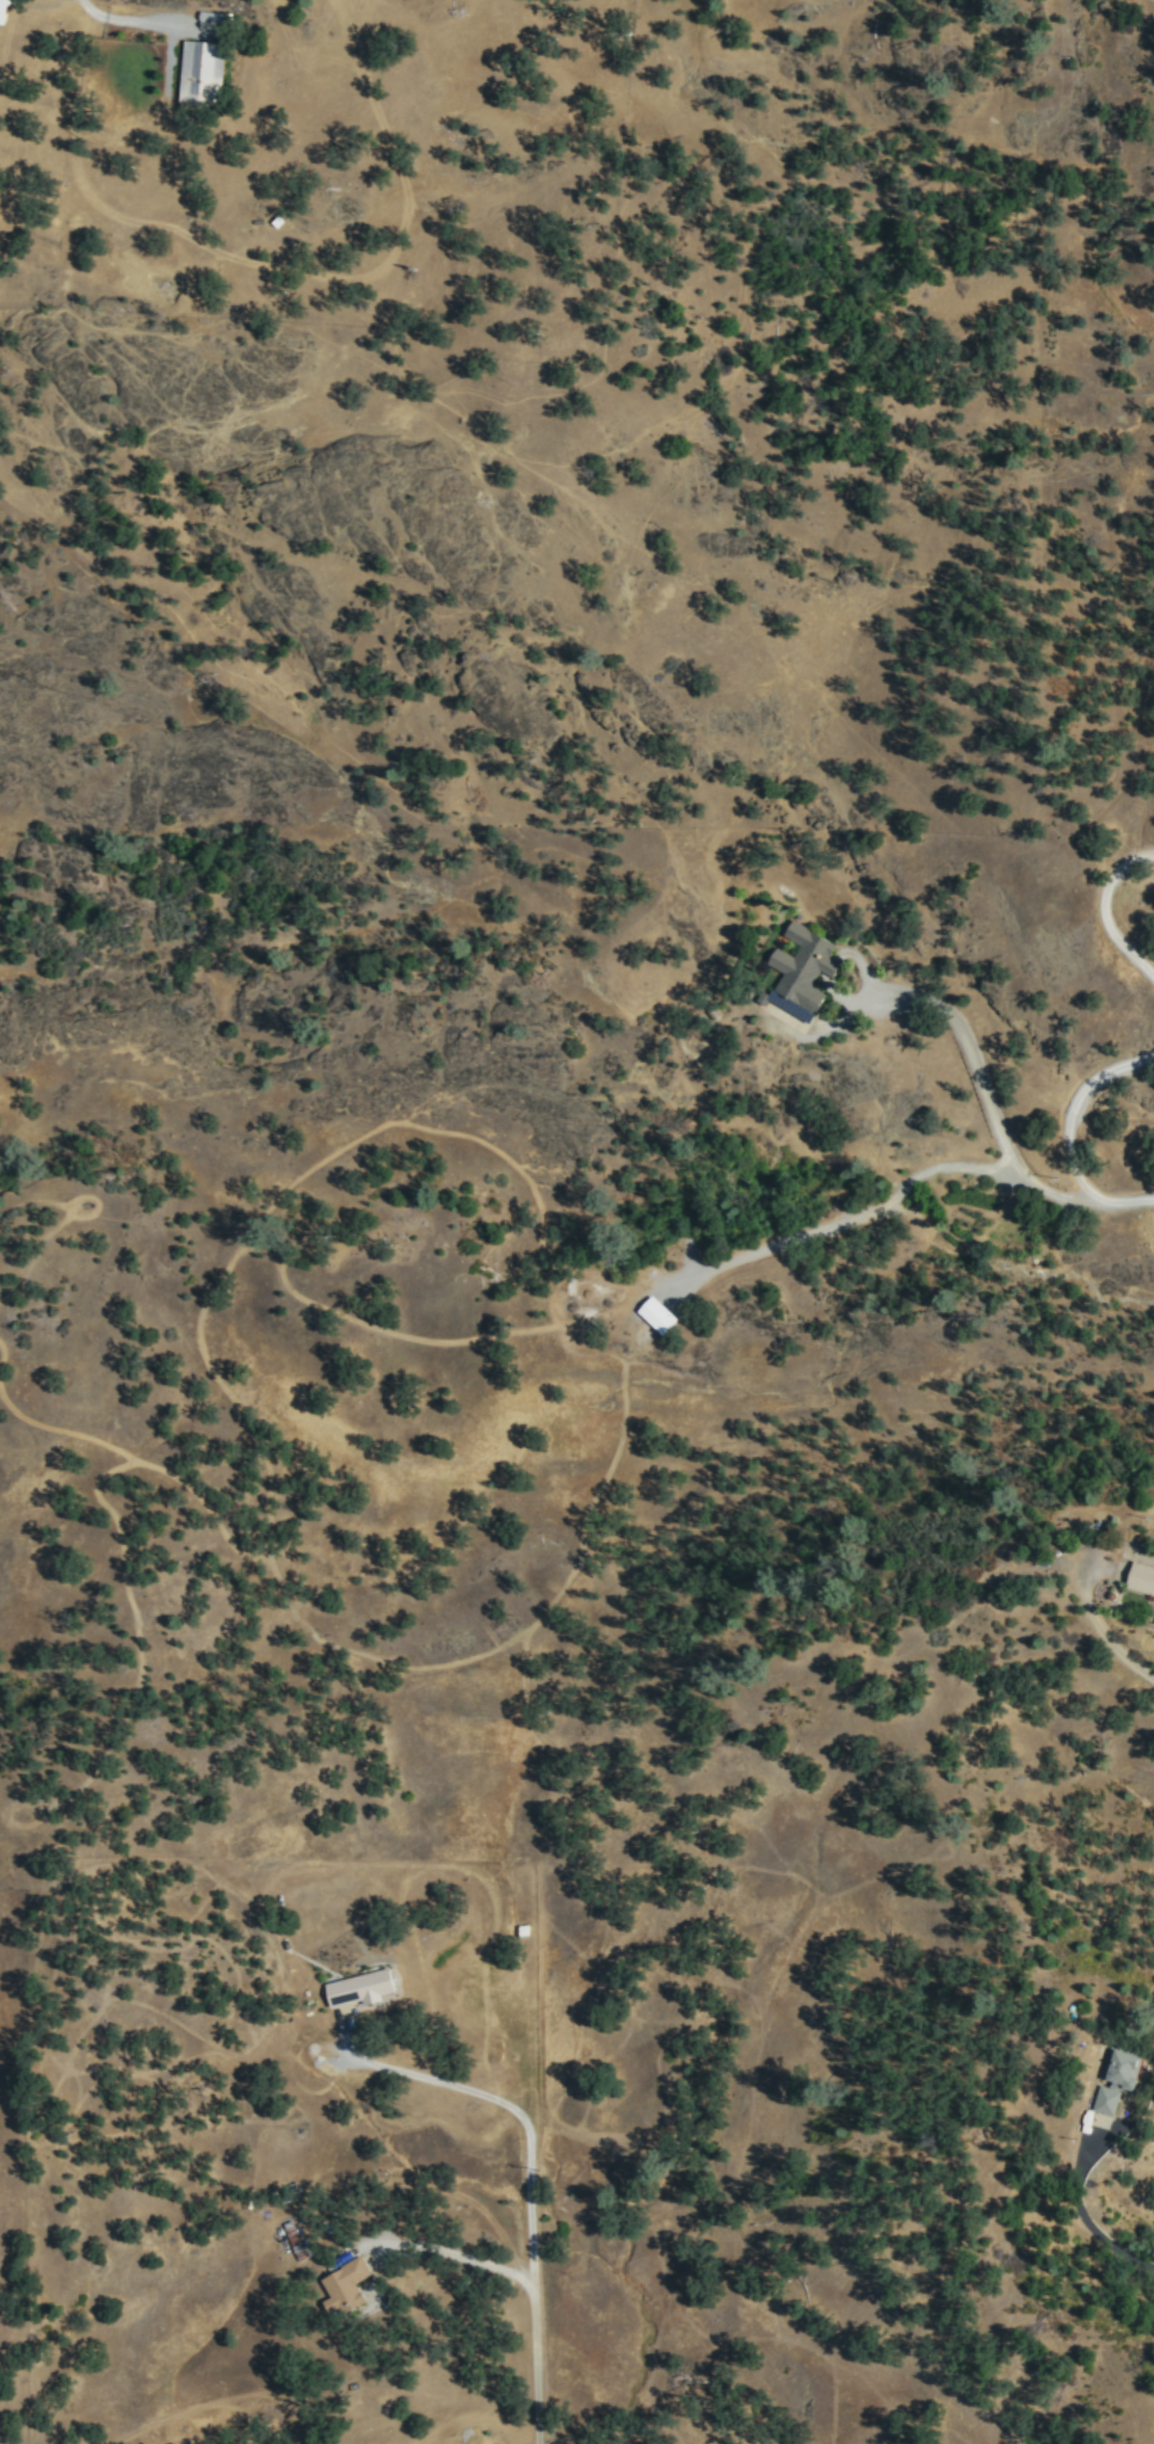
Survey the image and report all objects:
building: (4, 10)
building: (203, 69)
road: (1105, 1200)
building: (658, 1313)
building: (1147, 1571)
road: (1107, 1635)
building: (360, 1986)
building: (1122, 2075)
road: (530, 2196)
road: (1130, 2246)
road: (456, 2254)

